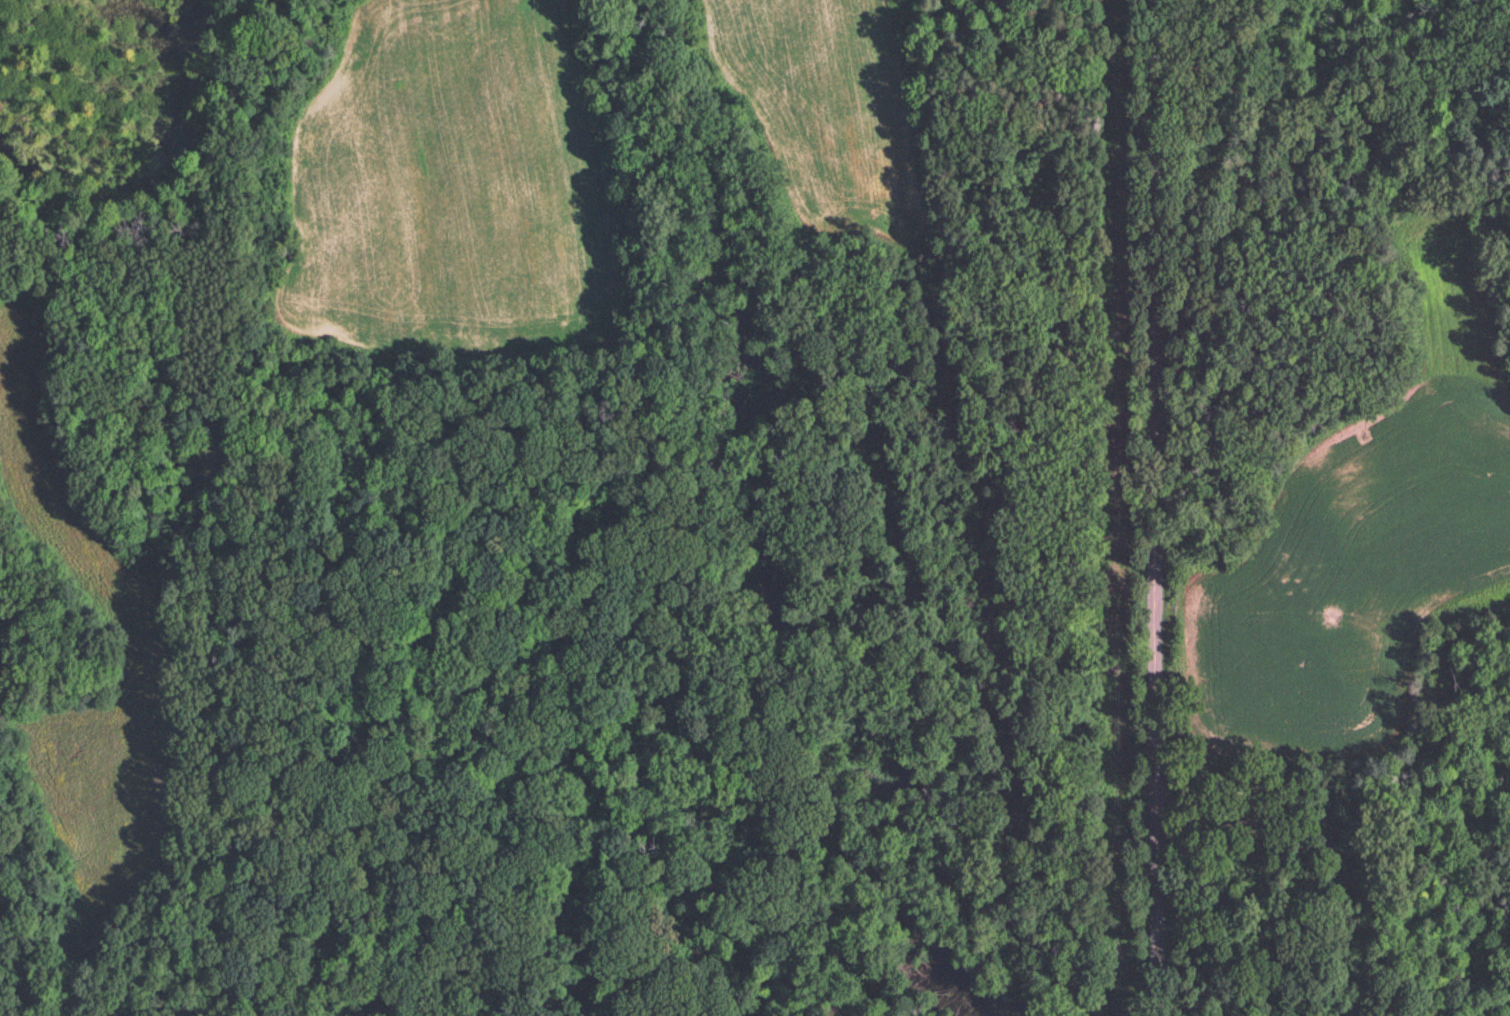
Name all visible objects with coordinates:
road: (1152, 508)

